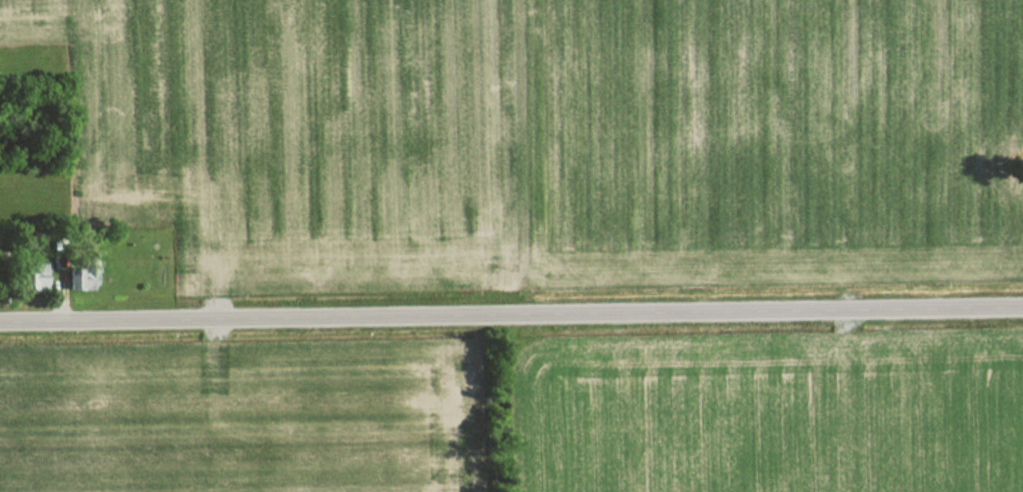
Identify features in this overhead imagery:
crop: (1015, 133)
crop: (294, 137)
crop: (760, 142)
road: (511, 314)
crop: (768, 417)
crop: (231, 419)

